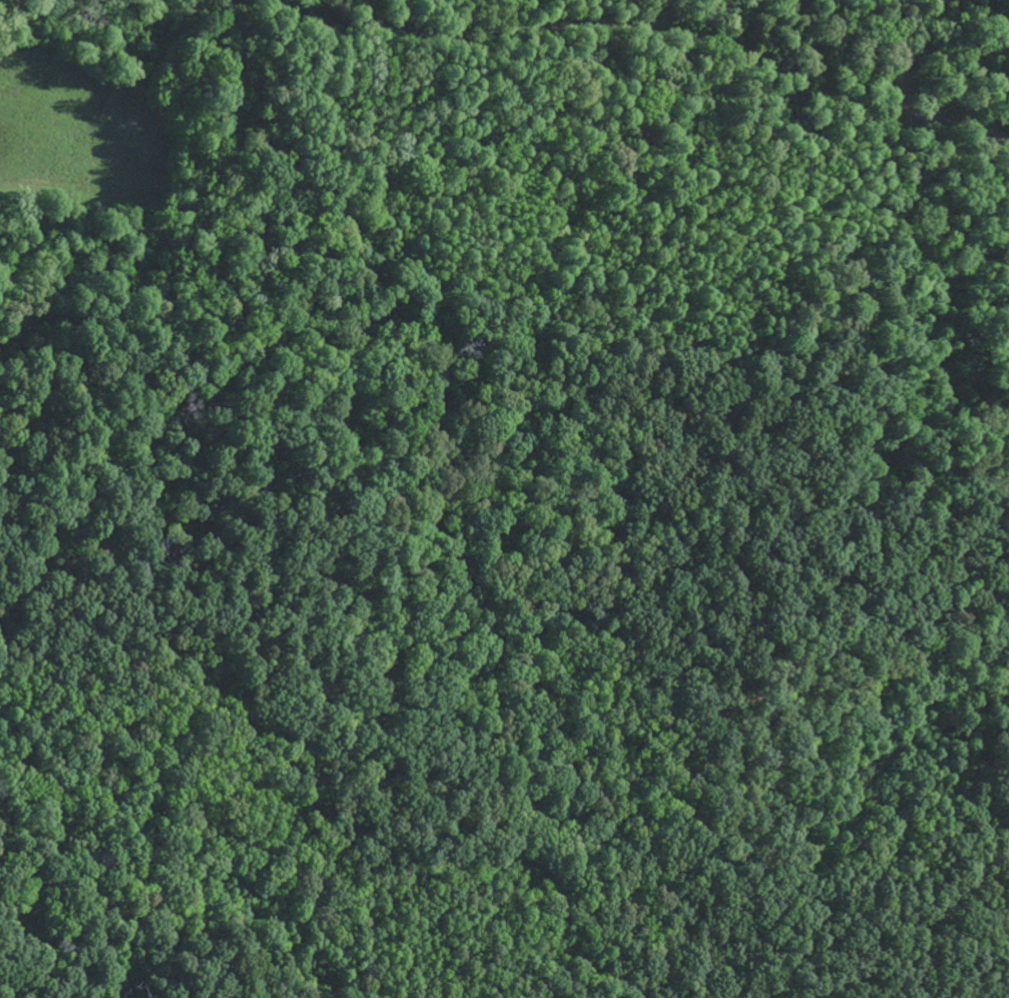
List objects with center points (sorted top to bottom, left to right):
road: (910, 98)

